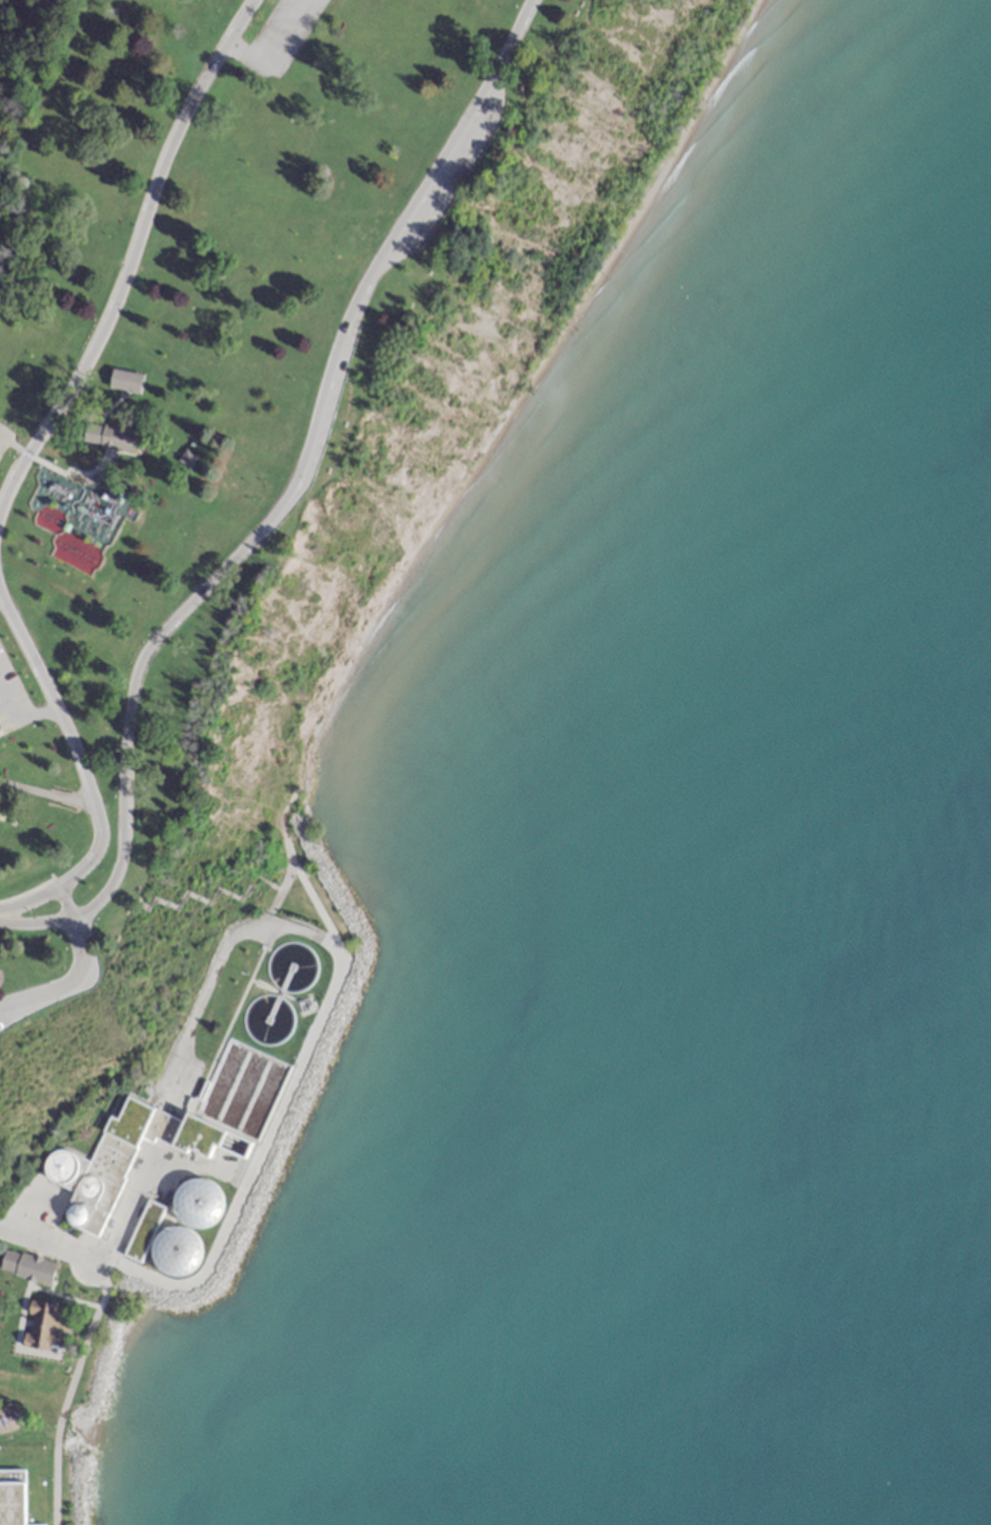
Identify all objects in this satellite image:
parking lot: (278, 36)
road: (274, 46)
parking lot: (453, 176)
road: (132, 261)
building: (113, 437)
parking lot: (4, 438)
road: (14, 444)
building: (186, 458)
road: (99, 477)
road: (280, 505)
park: (257, 559)
parking lot: (11, 697)
road: (18, 724)
road: (9, 730)
road: (83, 772)
road: (40, 796)
road: (28, 890)
road: (314, 897)
road: (74, 968)
building: (199, 1137)
building: (95, 1171)
road: (251, 1177)
road: (236, 1185)
road: (55, 1226)
building: (144, 1231)
road: (53, 1249)
building: (27, 1266)
road: (41, 1289)
building: (44, 1327)
building: (12, 1497)

